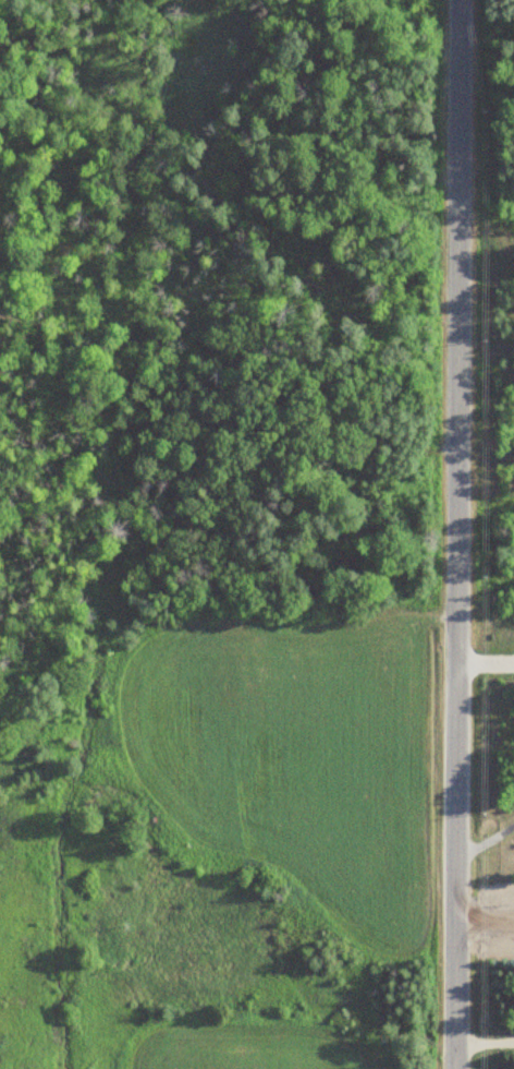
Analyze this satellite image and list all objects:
road: (454, 533)
road: (482, 921)

